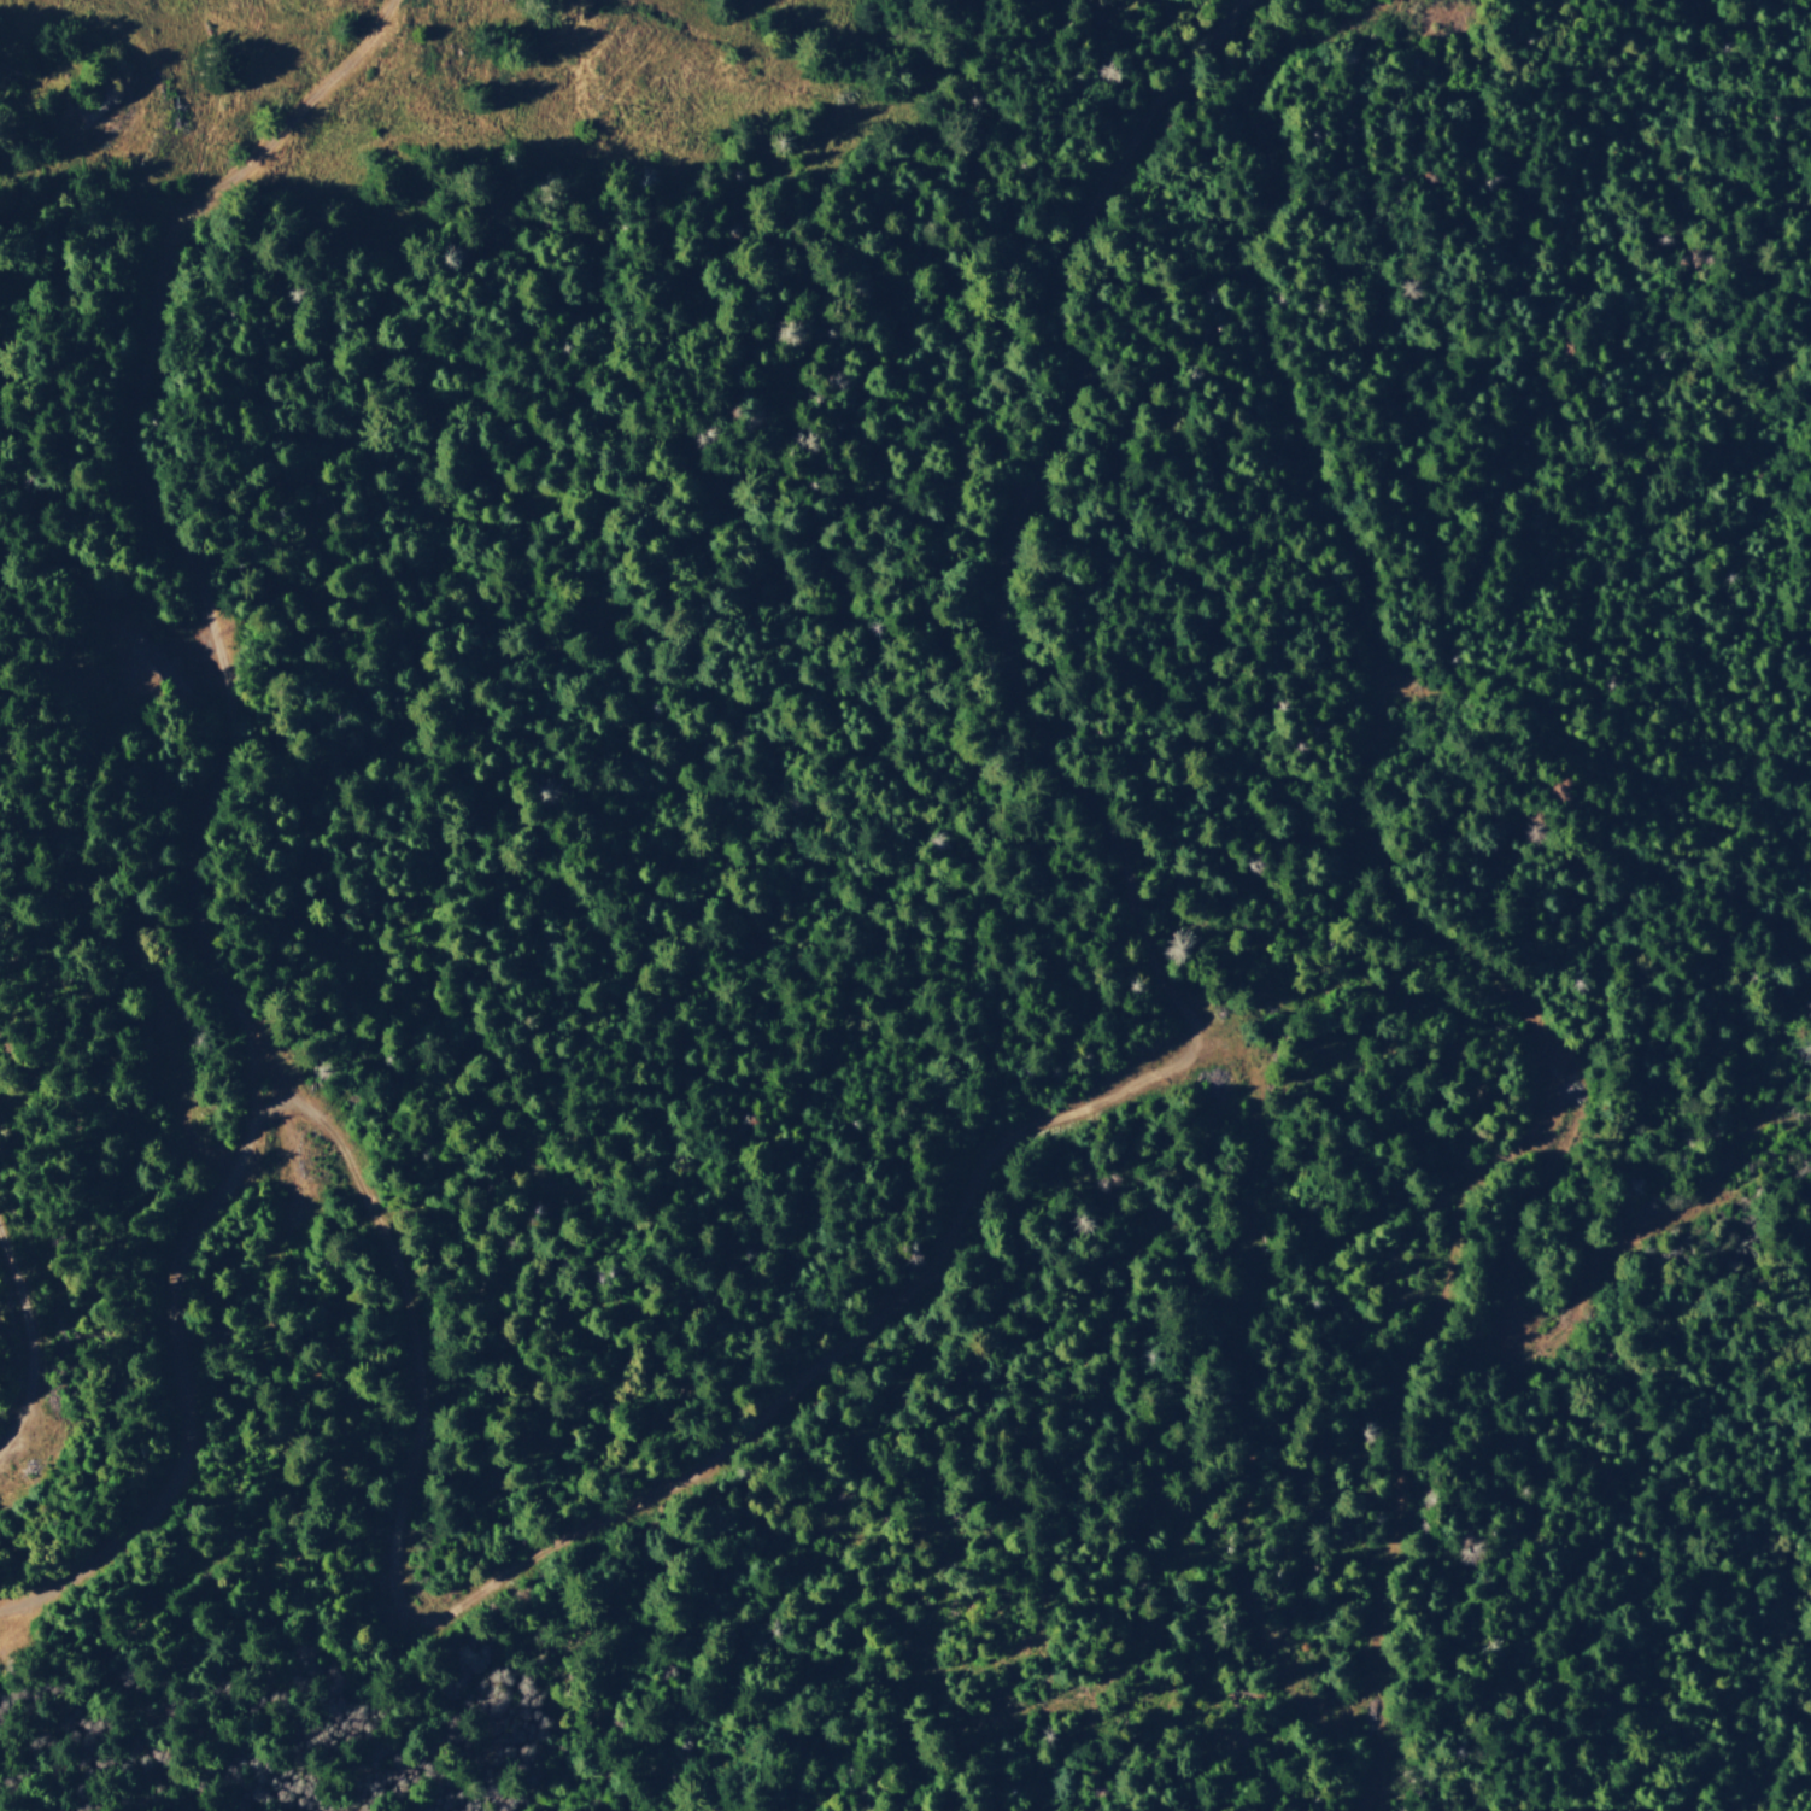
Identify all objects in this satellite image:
road: (191, 809)
road: (11, 1330)

